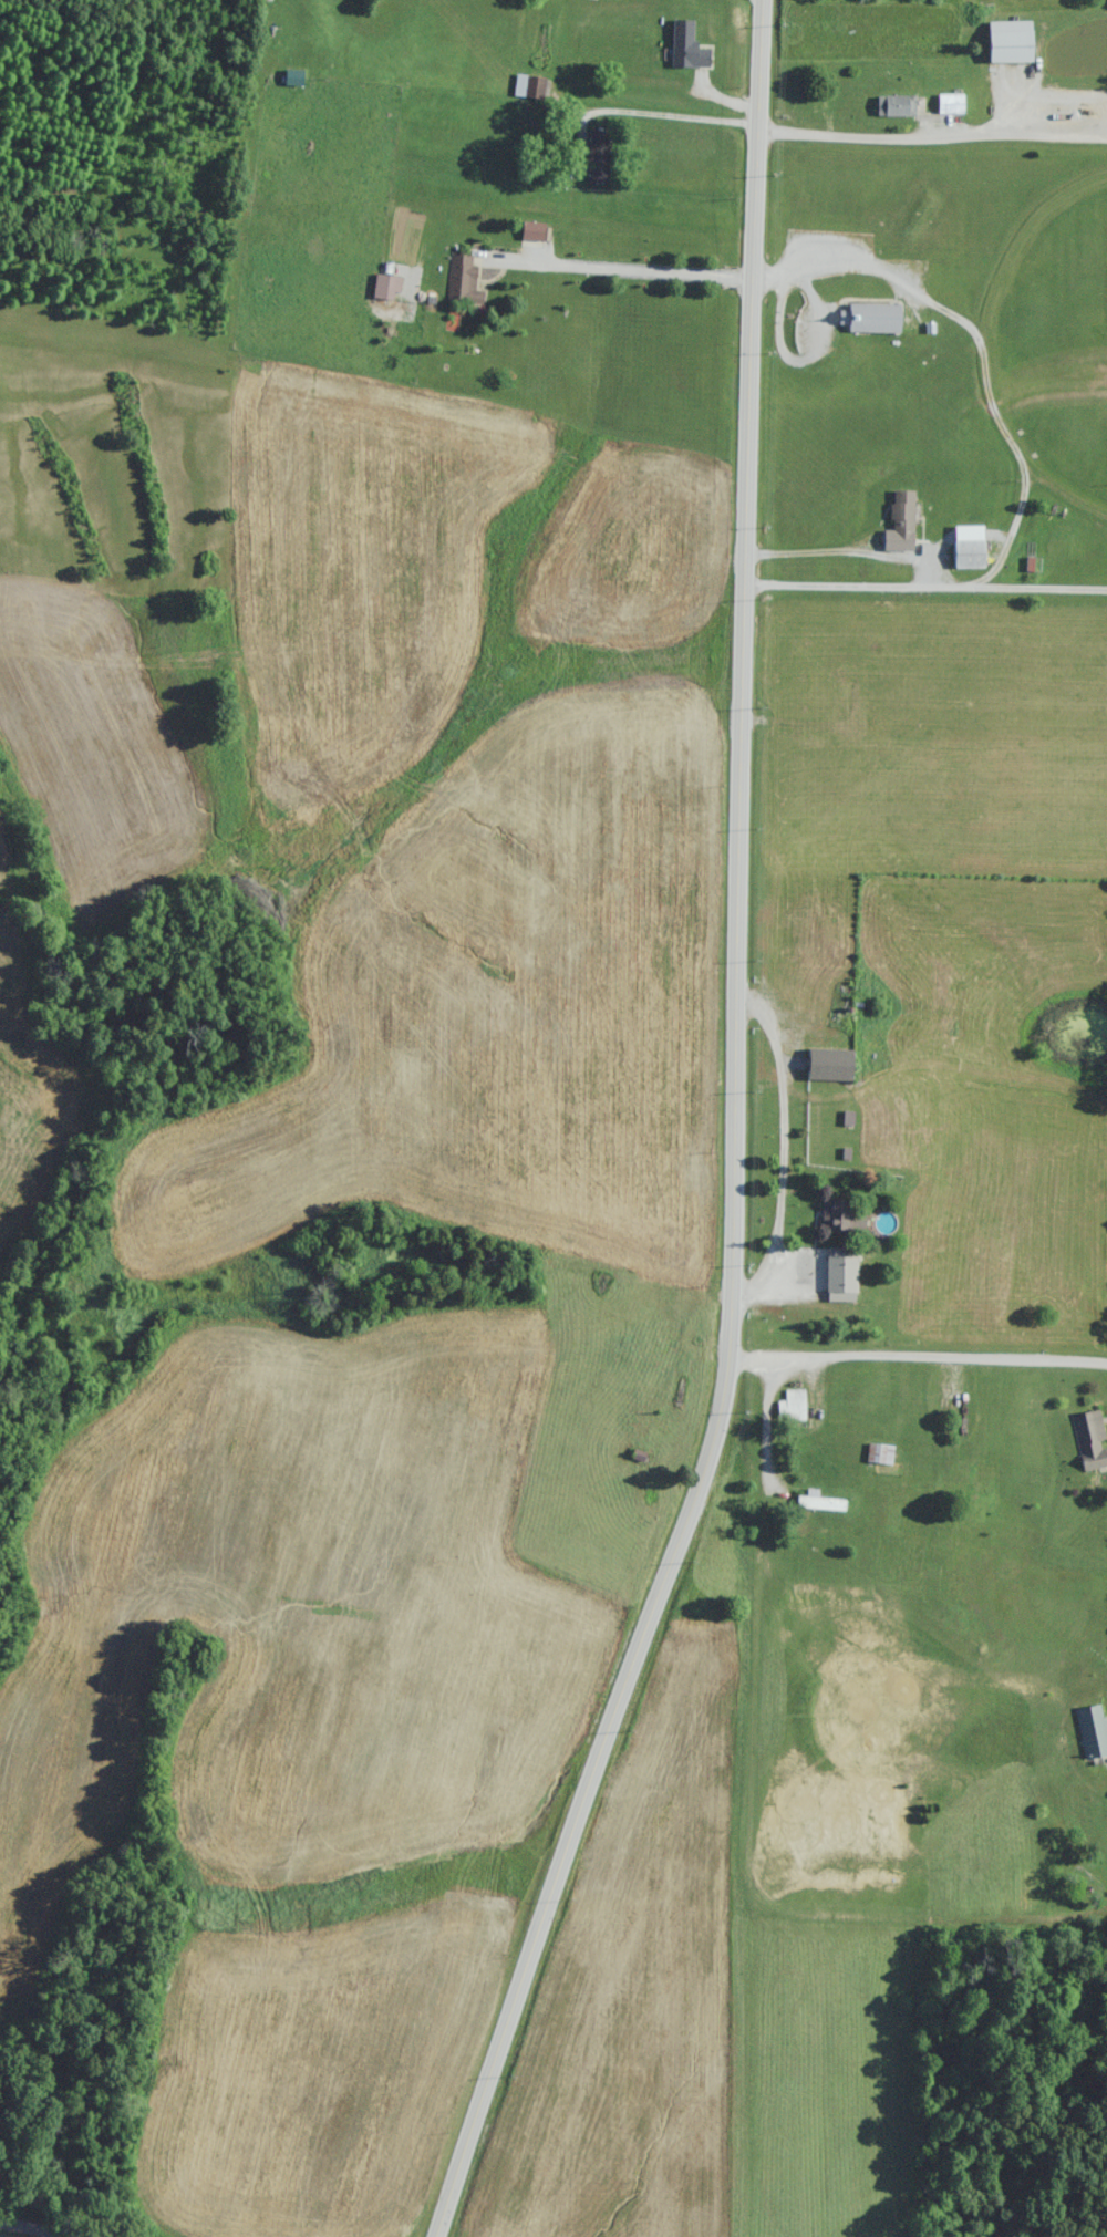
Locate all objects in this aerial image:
building: (1010, 43)
building: (686, 48)
building: (528, 87)
building: (896, 105)
building: (950, 105)
road: (677, 116)
road: (932, 141)
building: (598, 157)
road: (629, 270)
building: (462, 281)
building: (871, 319)
building: (902, 512)
building: (970, 551)
building: (829, 1064)
road: (734, 1141)
building: (840, 1215)
building: (841, 1275)
road: (917, 1359)
building: (790, 1407)
building: (1089, 1440)
building: (879, 1454)
building: (818, 1503)
building: (1092, 1731)
road: (53, 2225)

